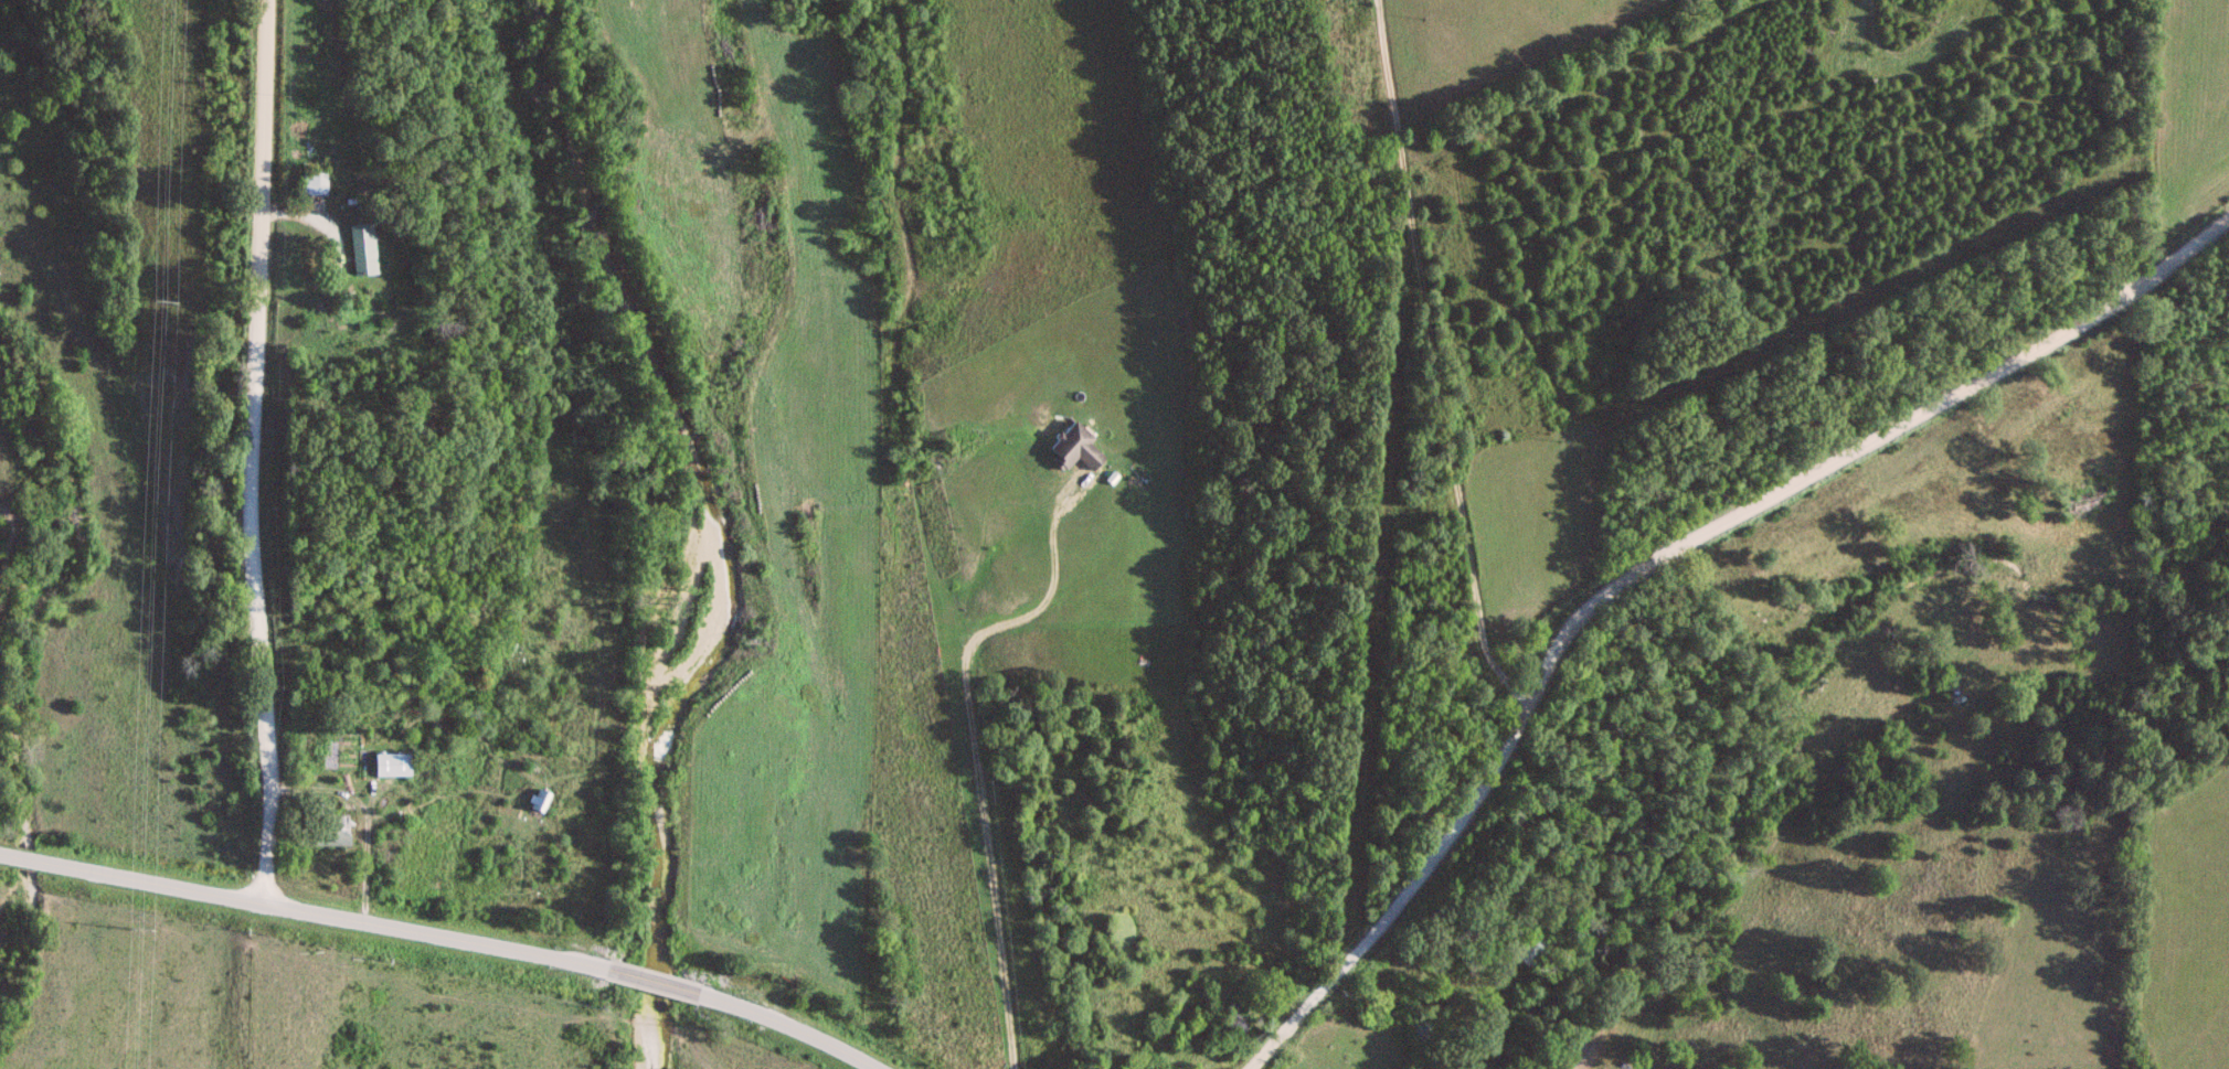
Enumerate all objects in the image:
building: (316, 184)
road: (323, 222)
building: (363, 249)
road: (1434, 366)
building: (1074, 446)
road: (252, 455)
road: (1662, 567)
building: (394, 766)
building: (541, 802)
road: (370, 817)
road: (445, 938)
road: (1452, 979)

